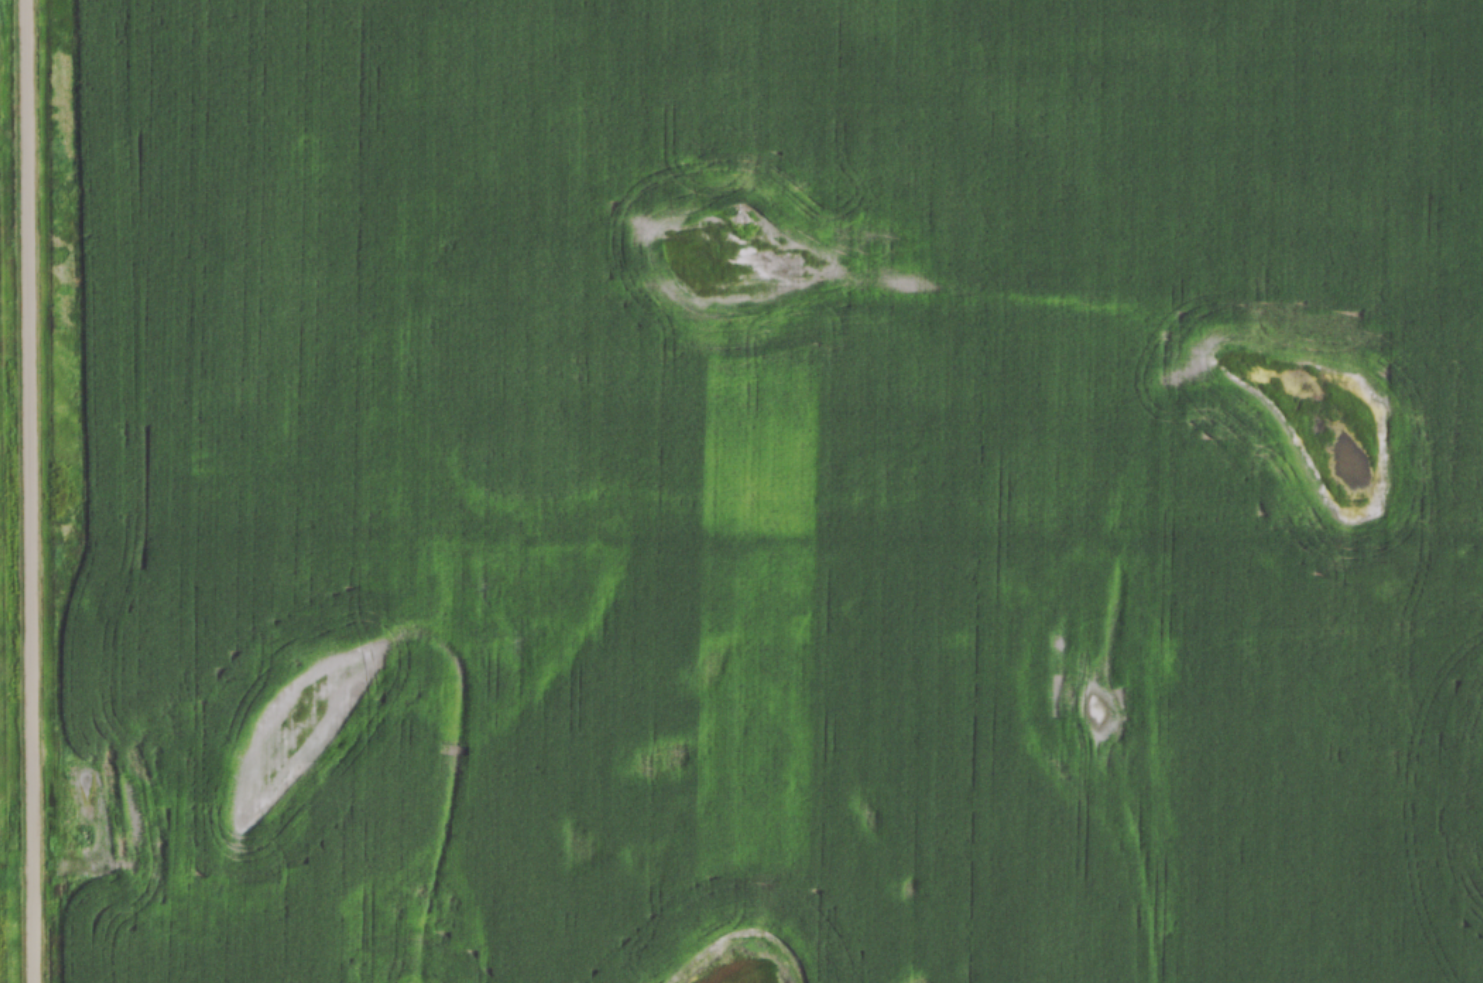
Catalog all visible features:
road: (25, 491)

